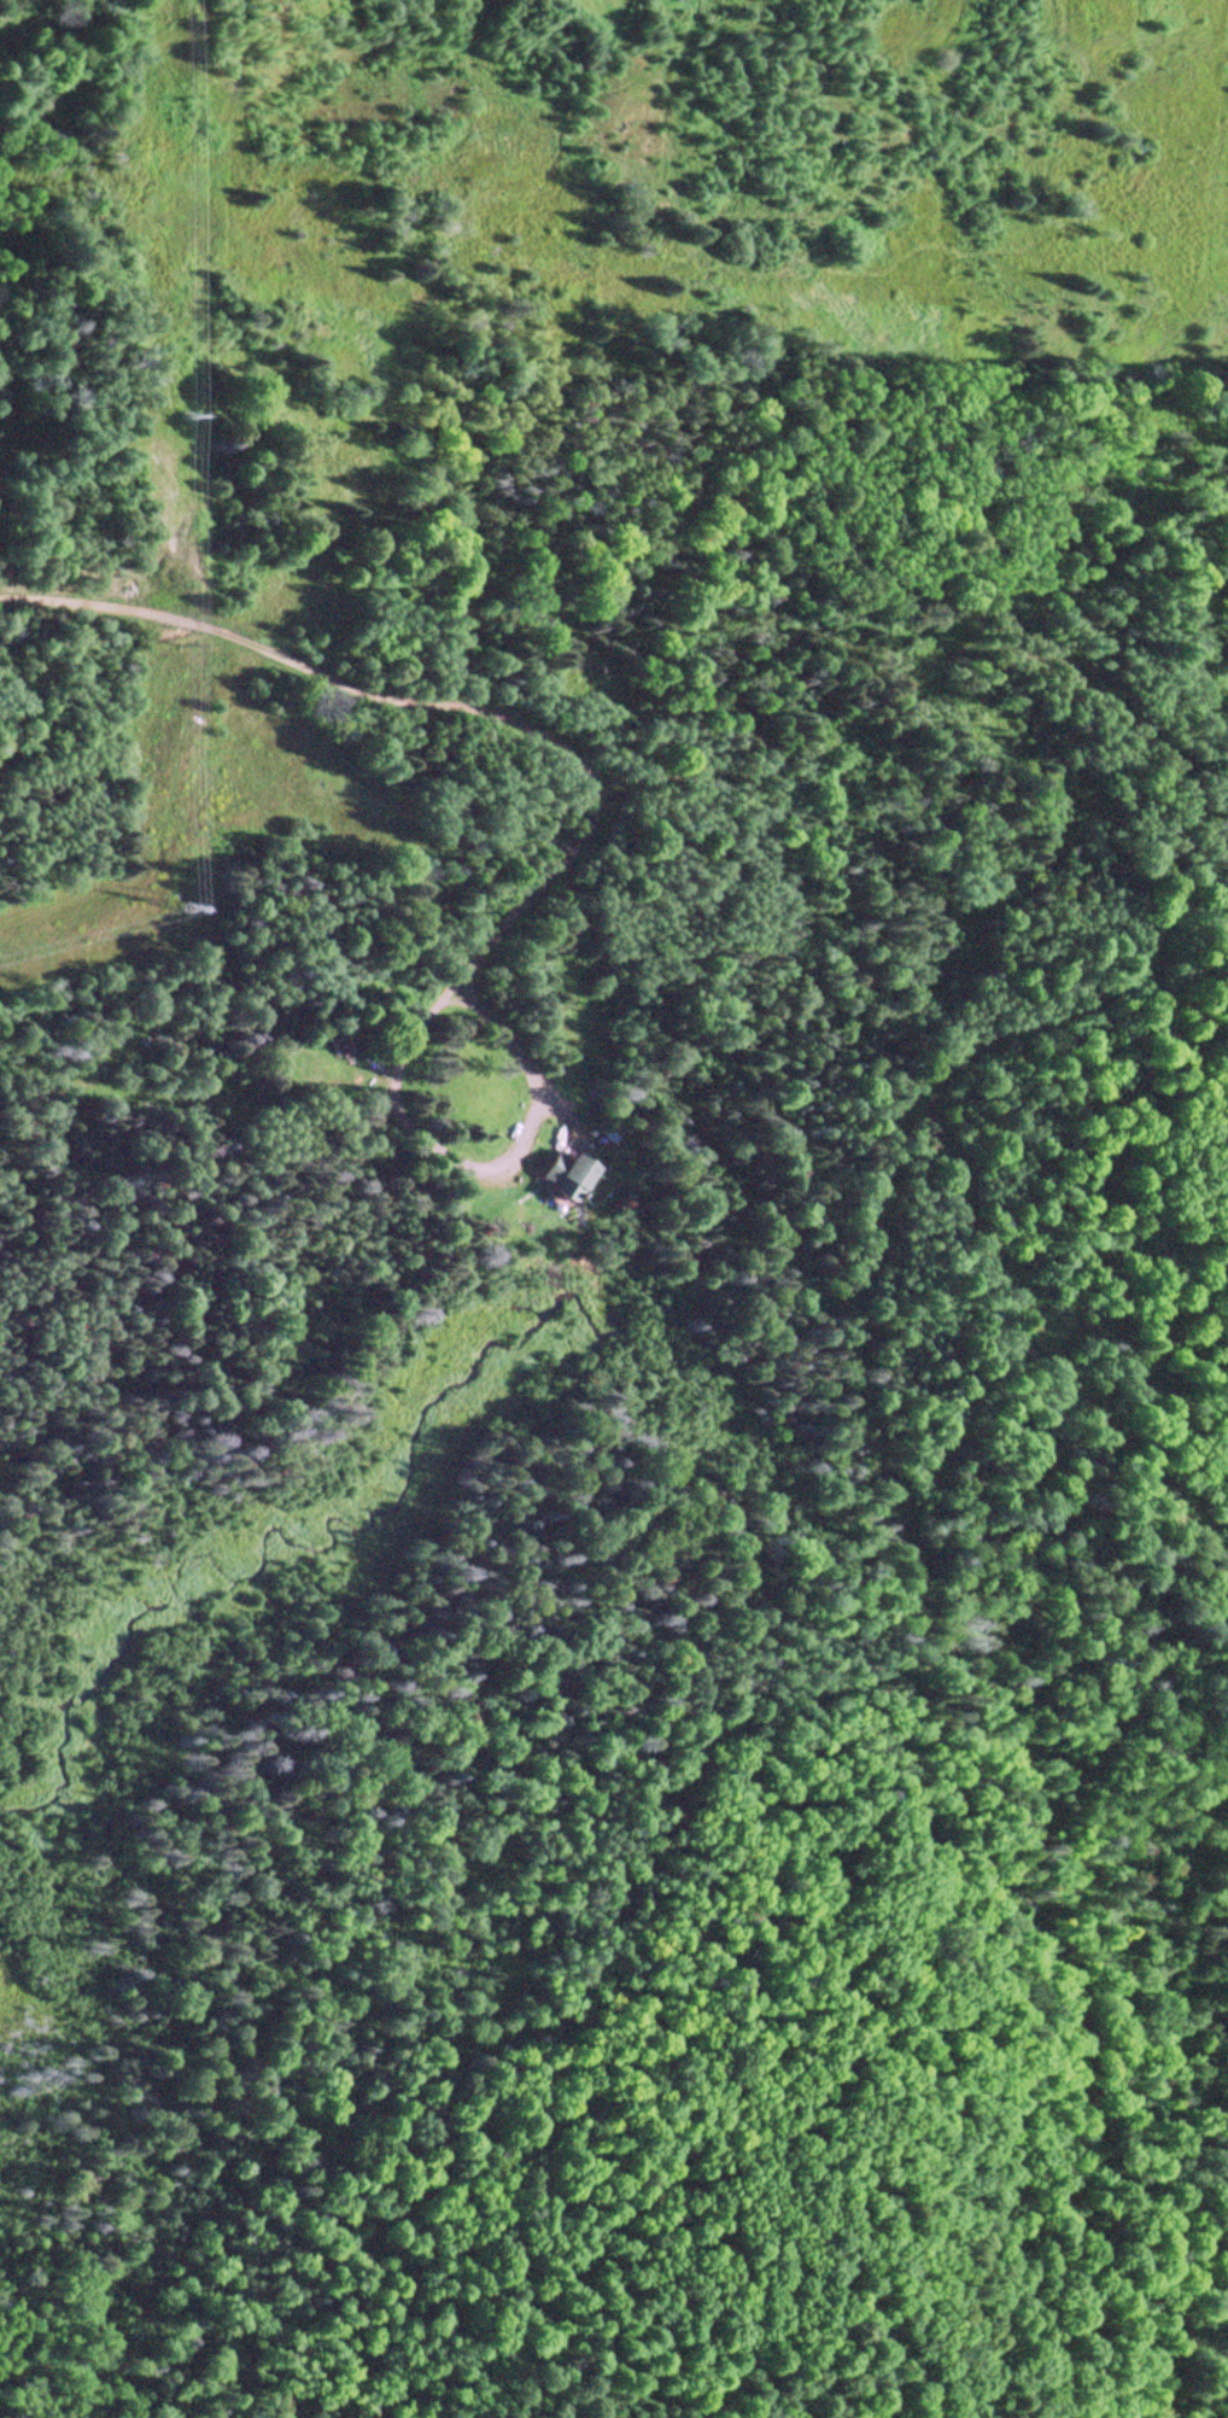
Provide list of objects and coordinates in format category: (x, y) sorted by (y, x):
power tower: (170, 422)
power tower: (180, 900)
building: (560, 1175)

